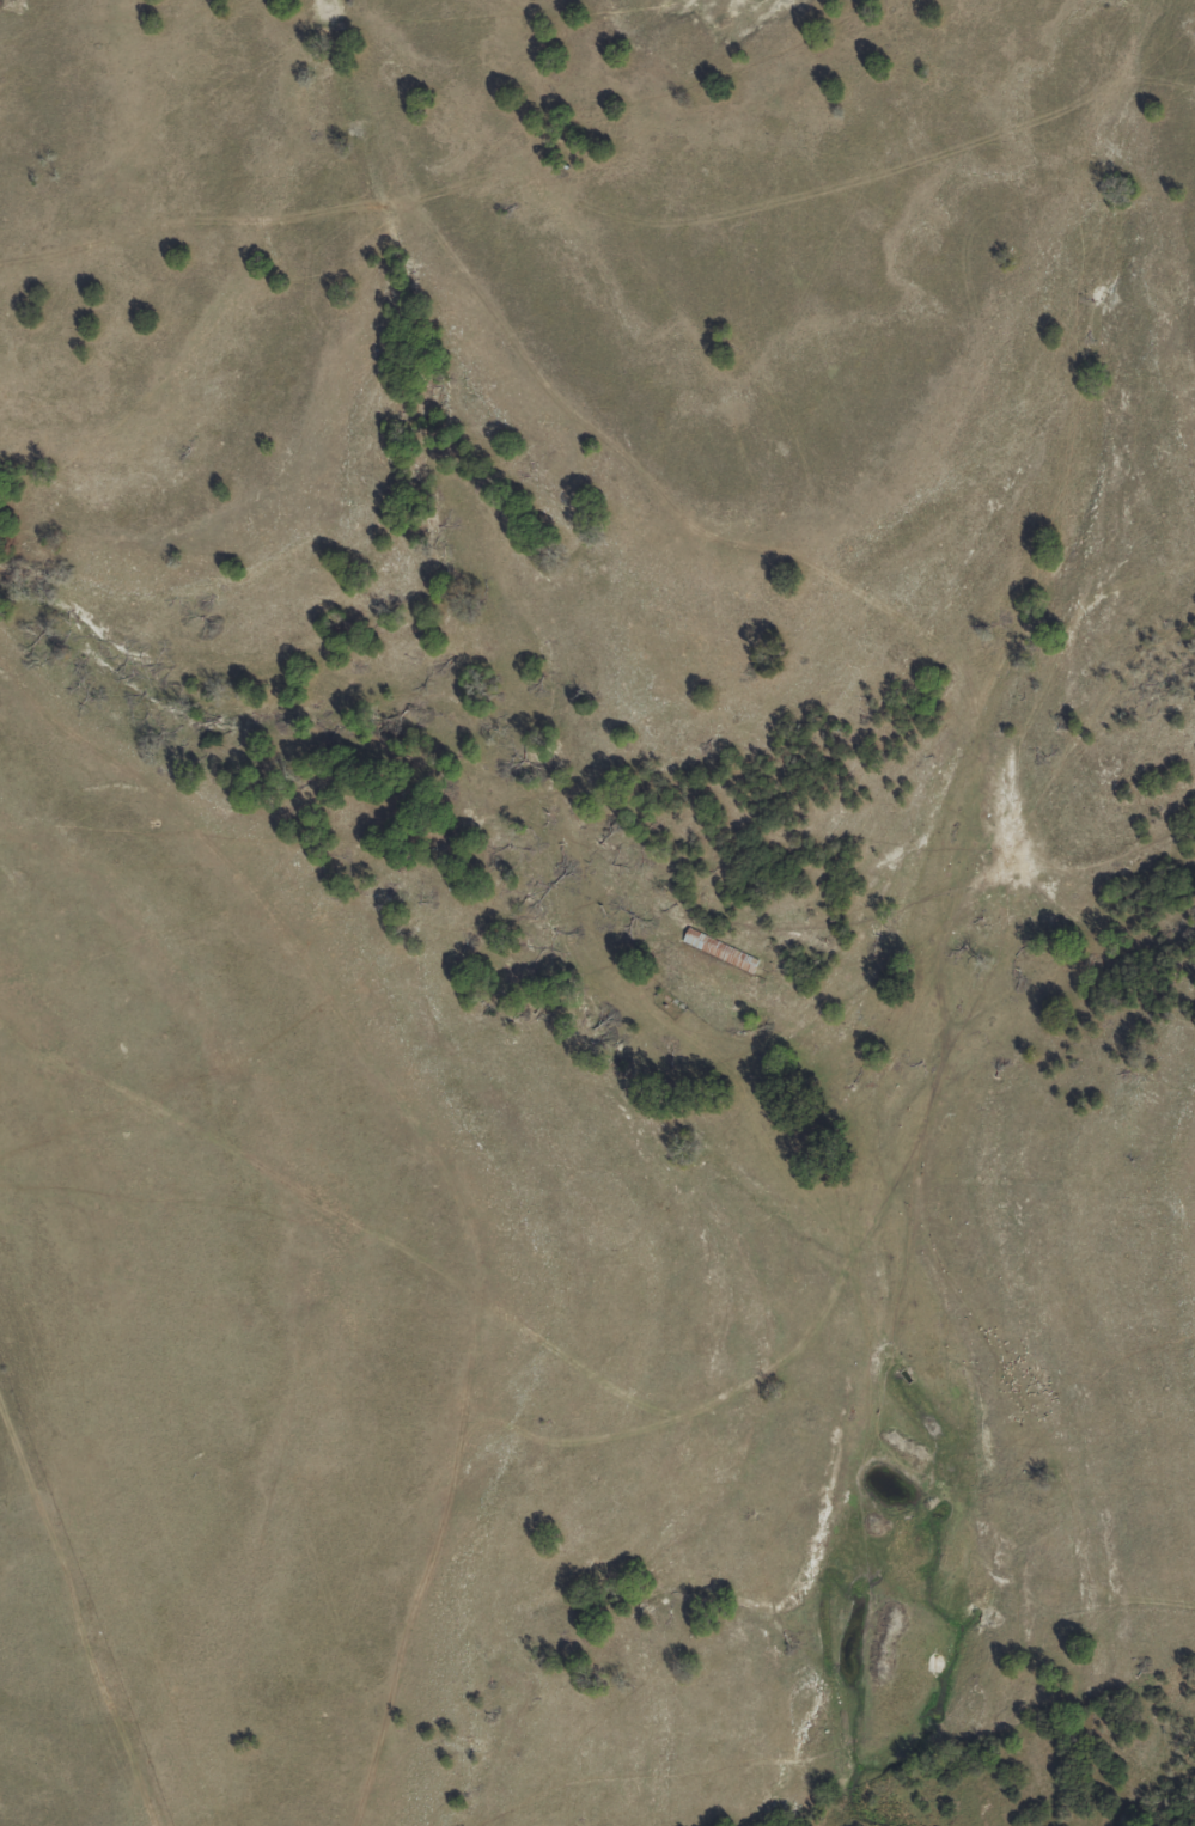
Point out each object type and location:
building: (732, 957)

